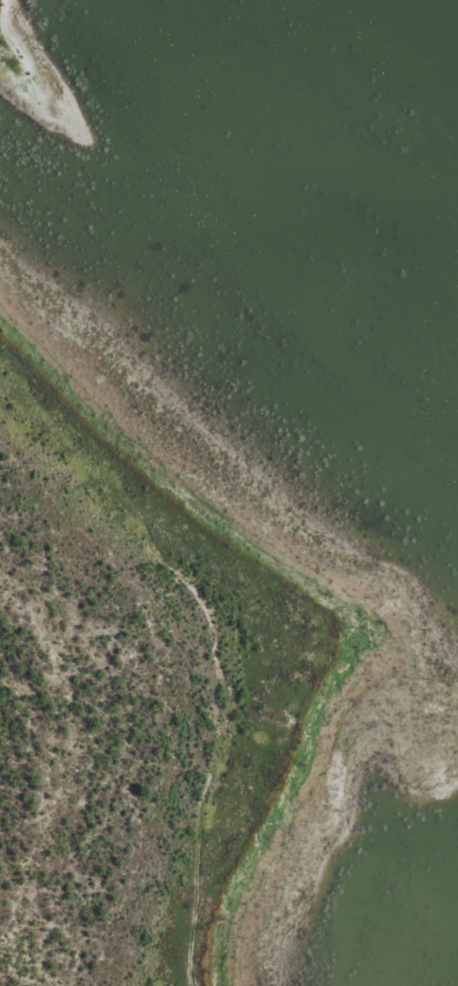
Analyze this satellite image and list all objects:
river: (430, 30)

